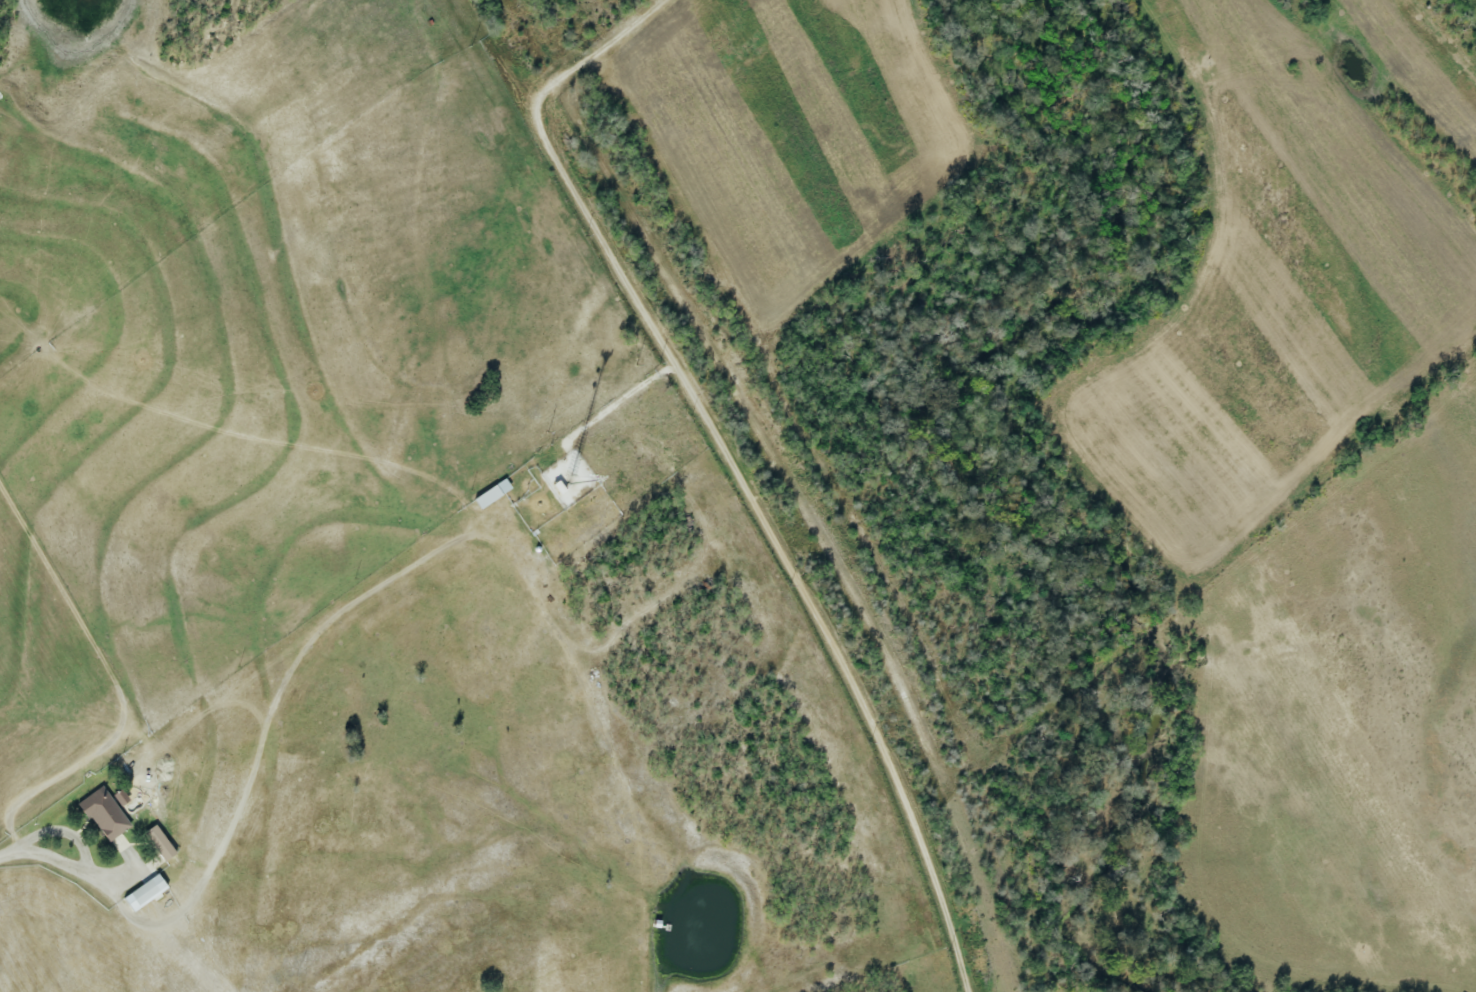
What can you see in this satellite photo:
road: (599, 55)
road: (780, 539)
building: (104, 815)
building: (159, 843)
road: (56, 865)
building: (143, 893)

